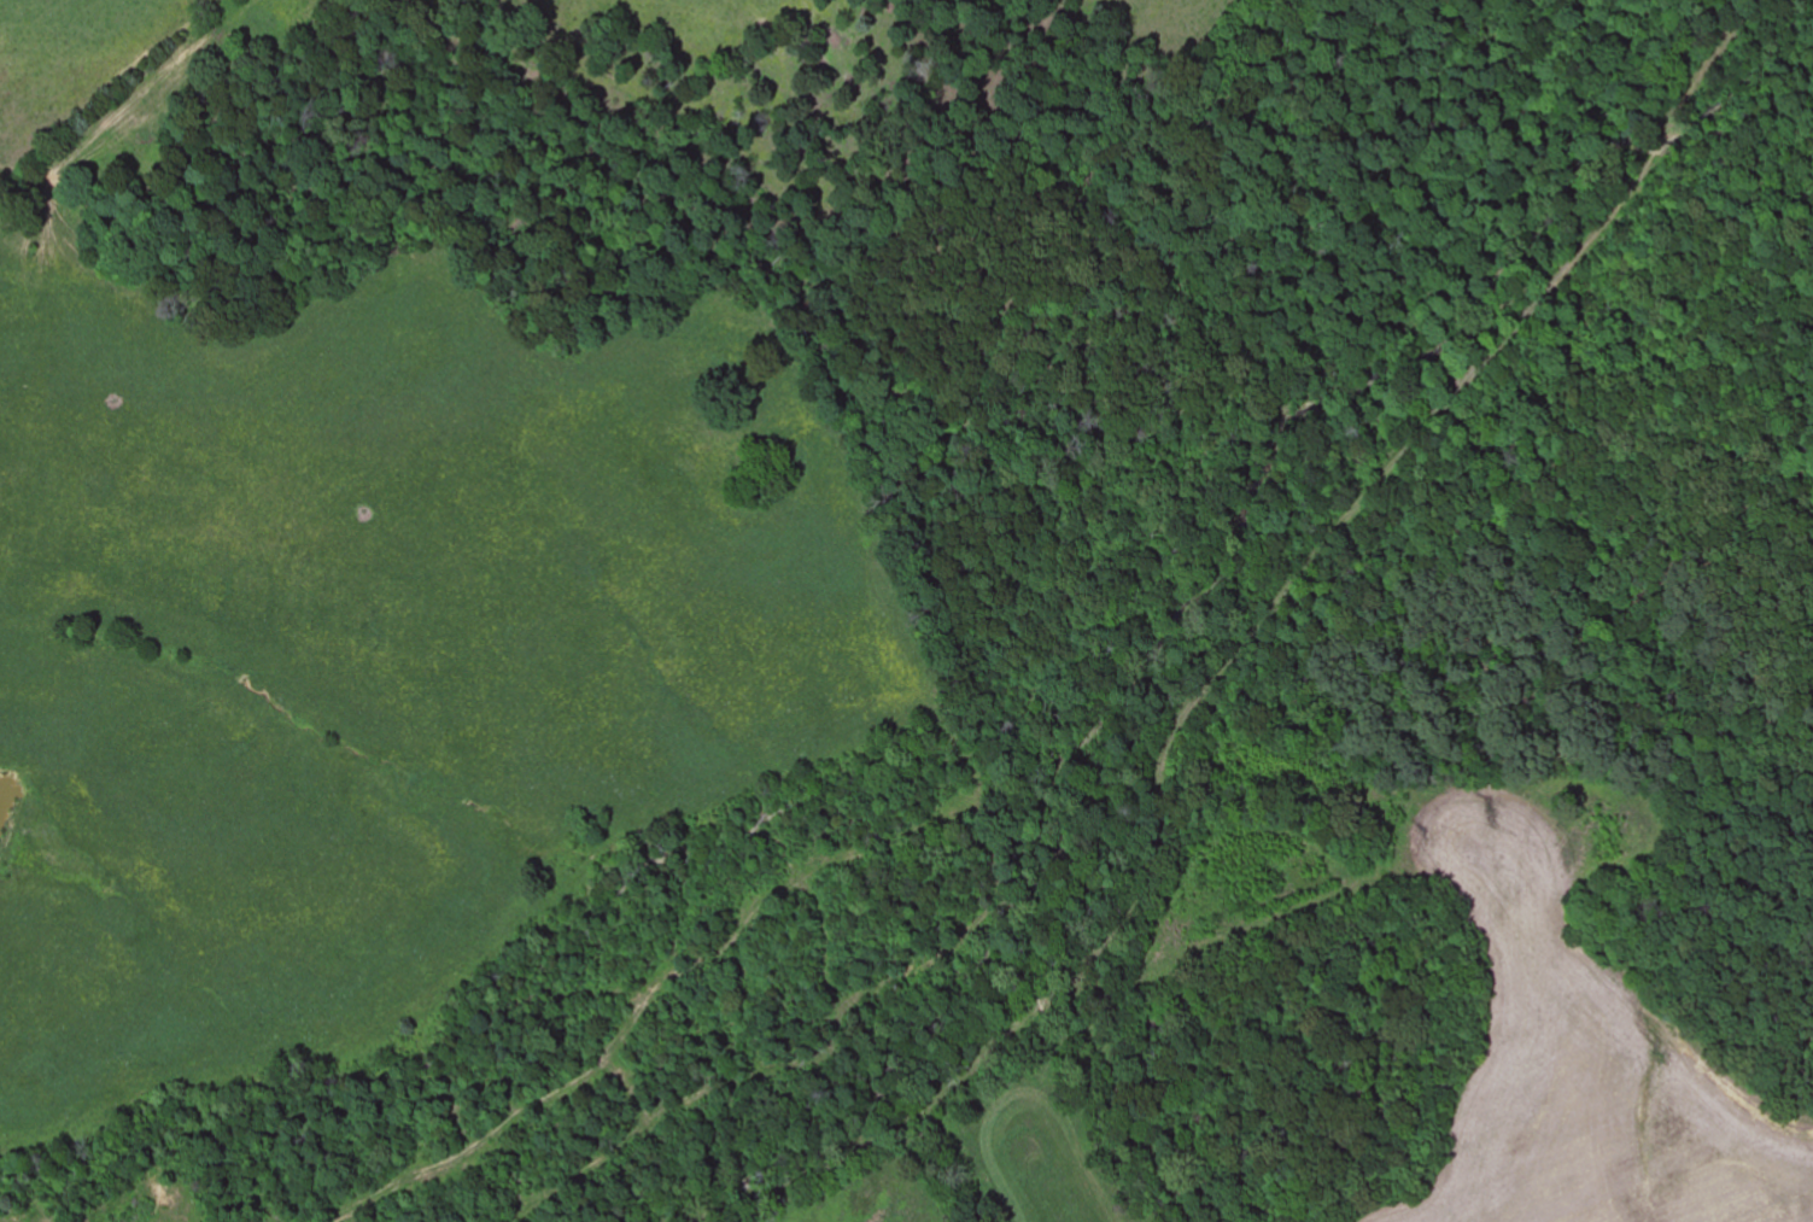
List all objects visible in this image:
road: (1698, 84)
road: (1109, 931)

